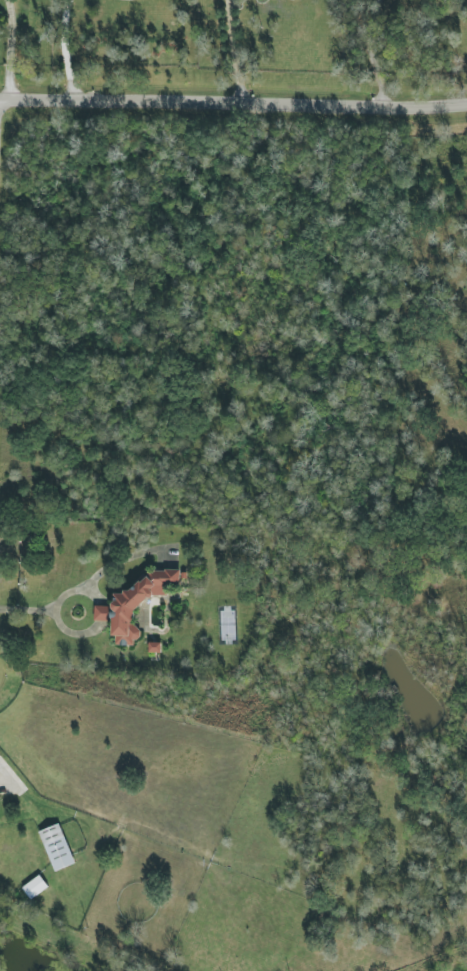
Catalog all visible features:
road: (7, 50)
road: (62, 50)
road: (233, 52)
road: (370, 53)
road: (233, 103)
road: (55, 604)
building: (135, 605)
building: (154, 647)
road: (4, 772)
building: (57, 847)
building: (35, 887)

